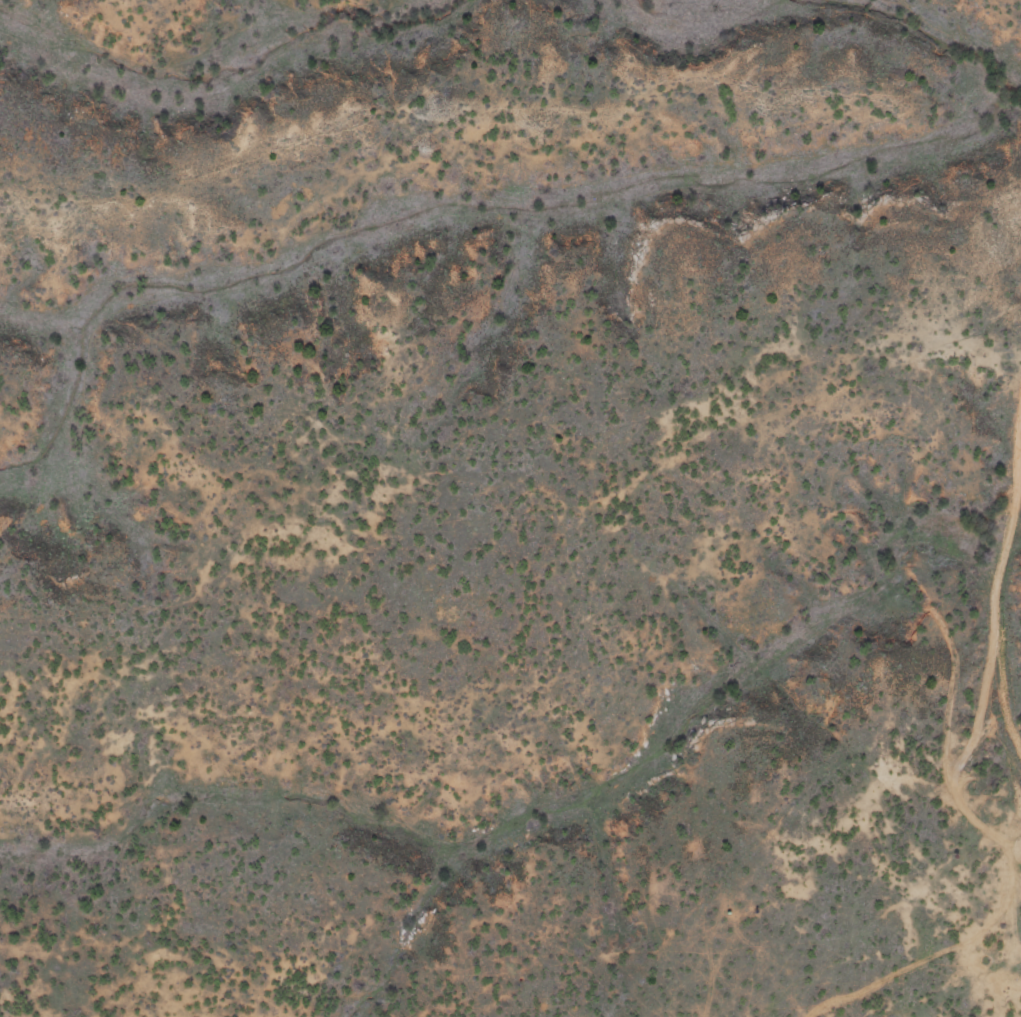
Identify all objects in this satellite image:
road: (1009, 651)

